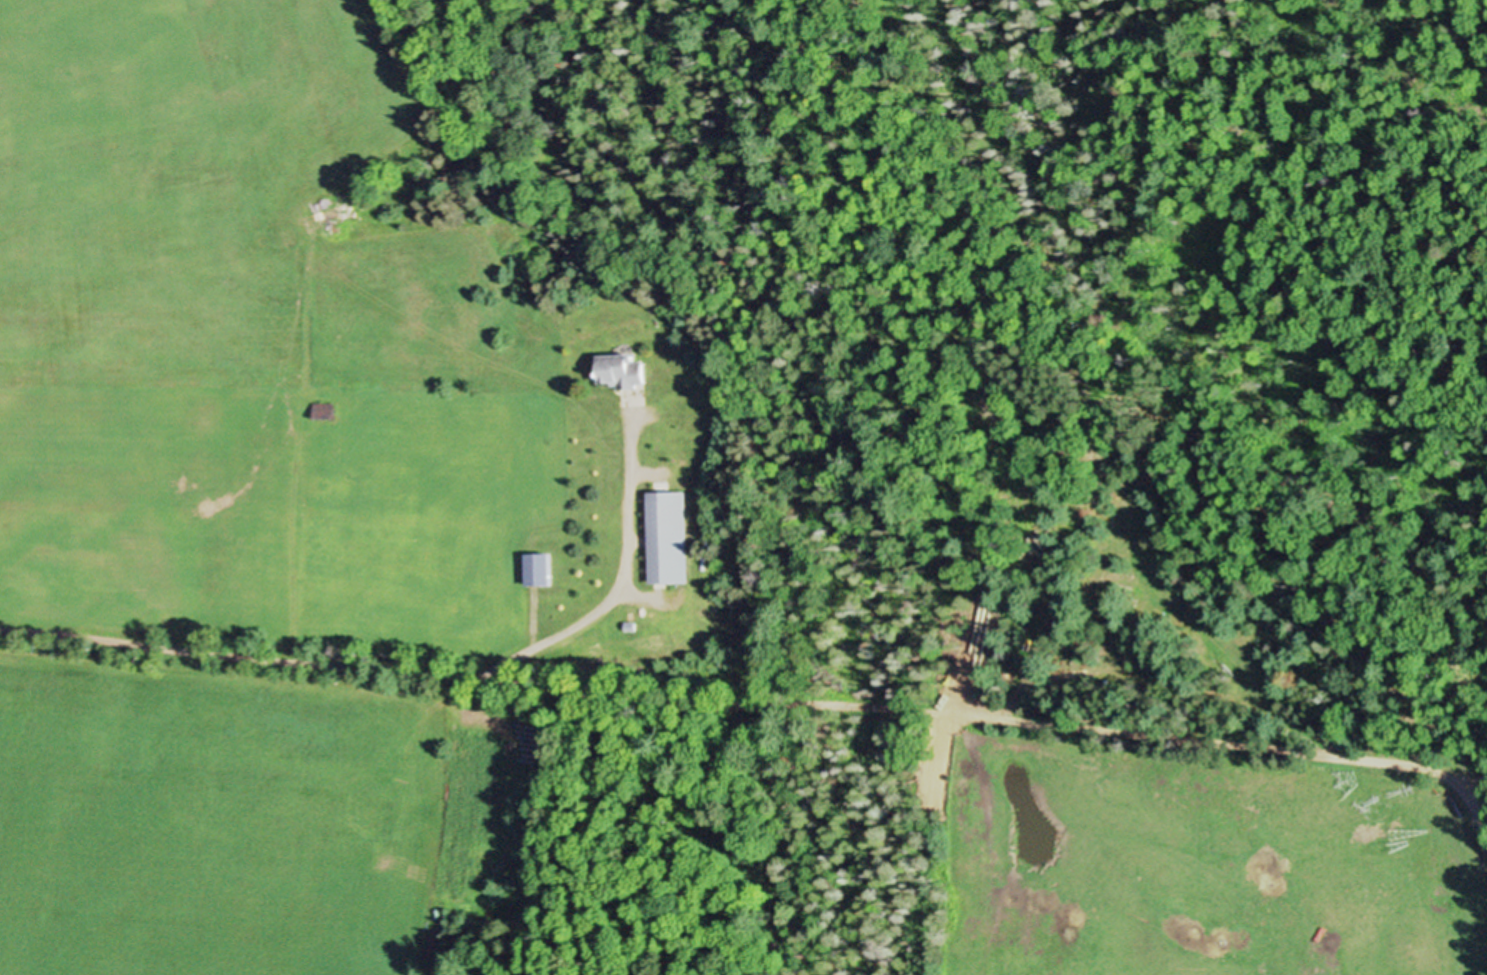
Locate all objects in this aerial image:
building: (627, 369)
building: (672, 537)
building: (542, 568)
road: (616, 593)
road: (236, 652)
road: (1001, 716)

